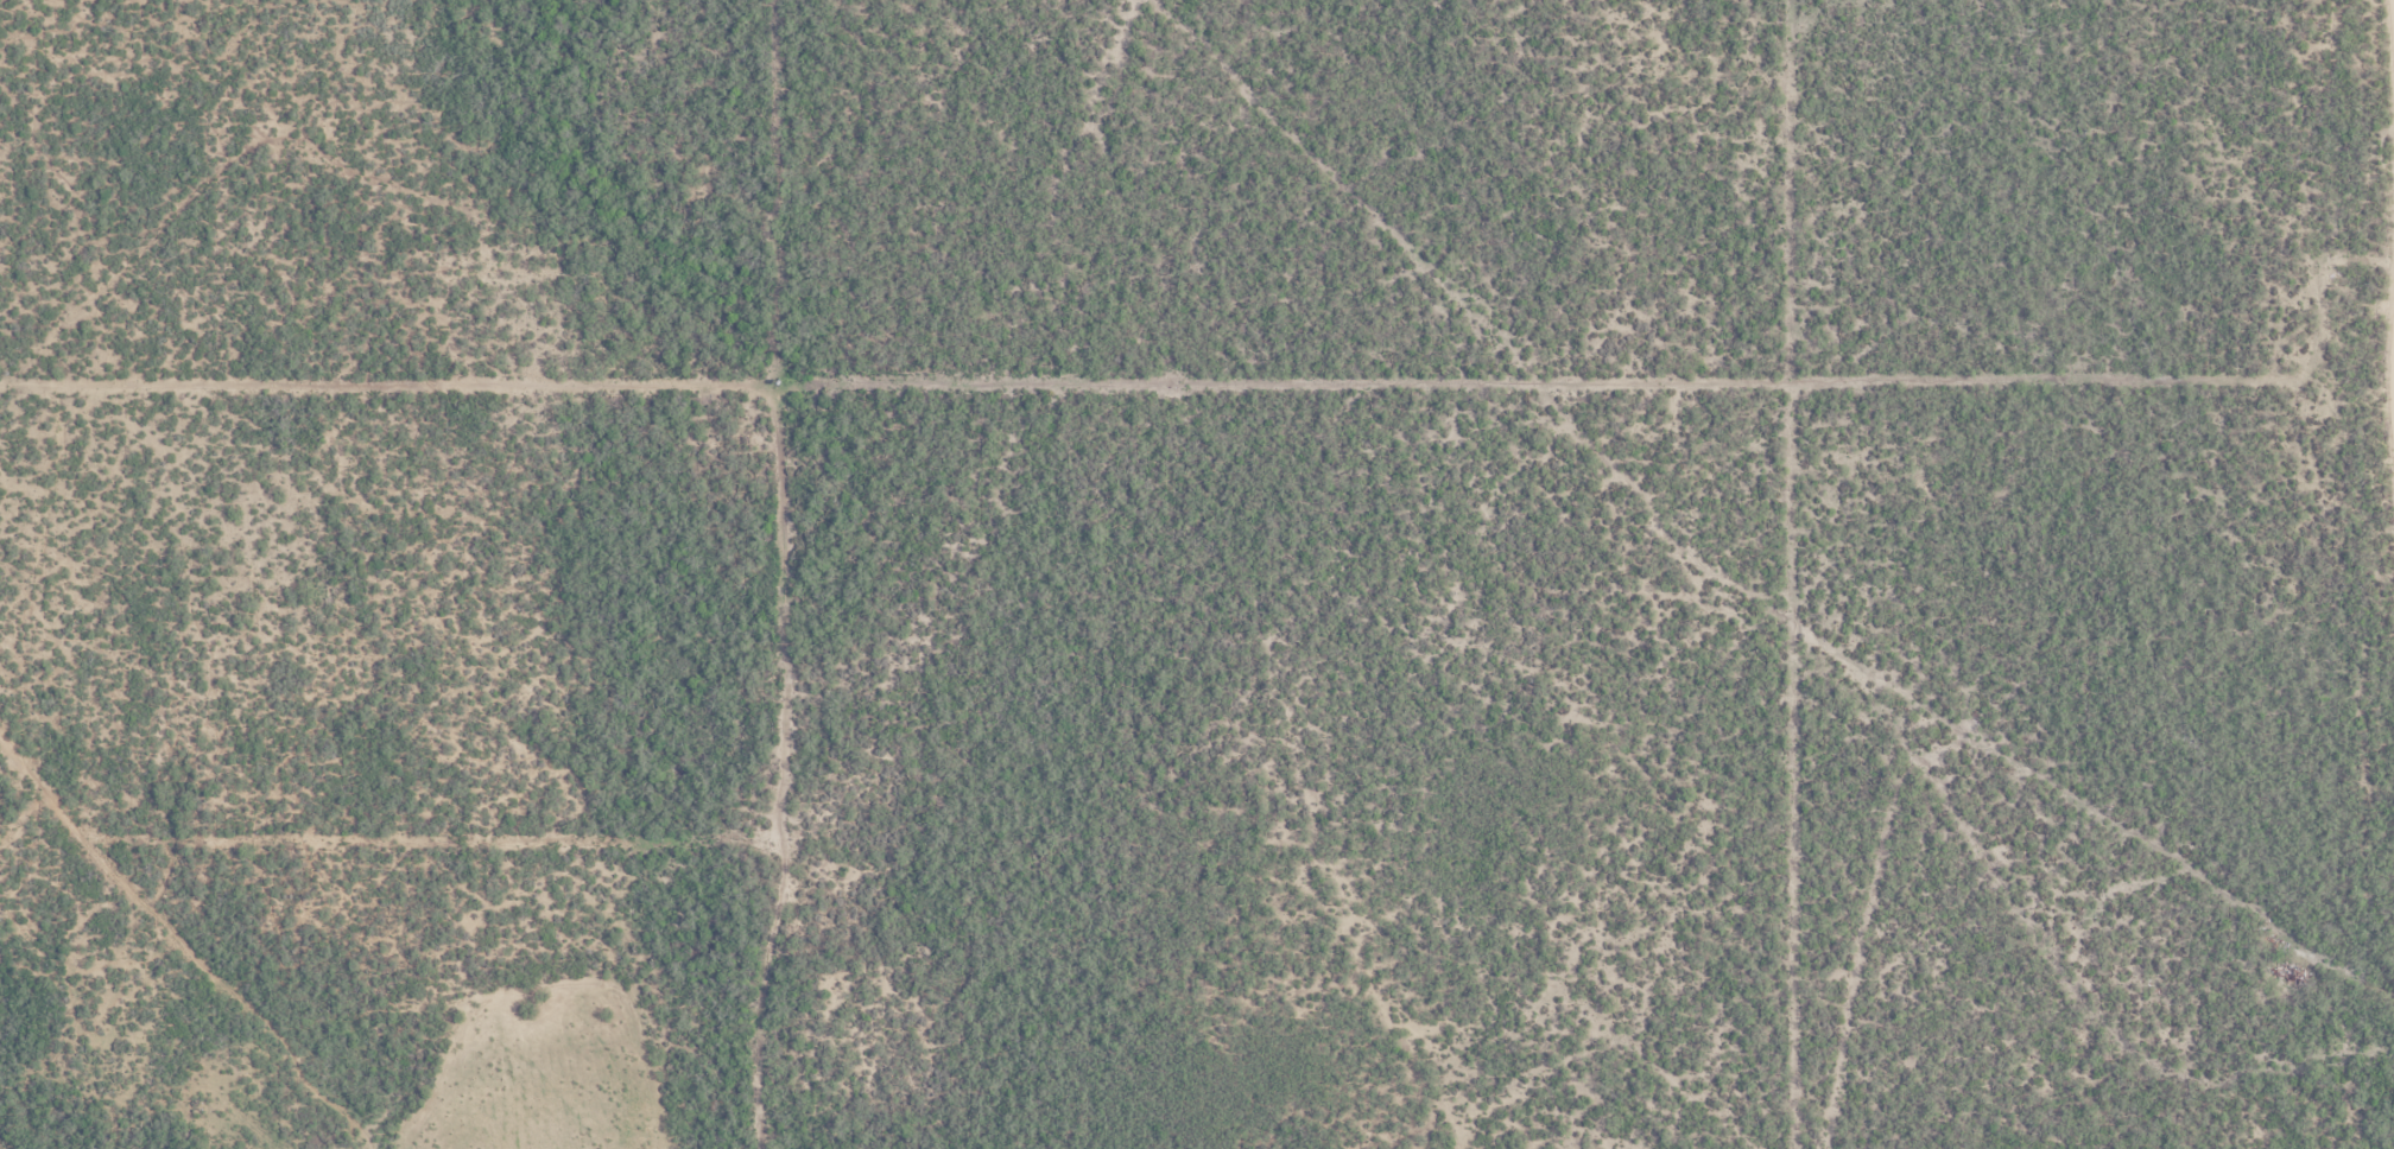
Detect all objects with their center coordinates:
road: (2390, 26)

